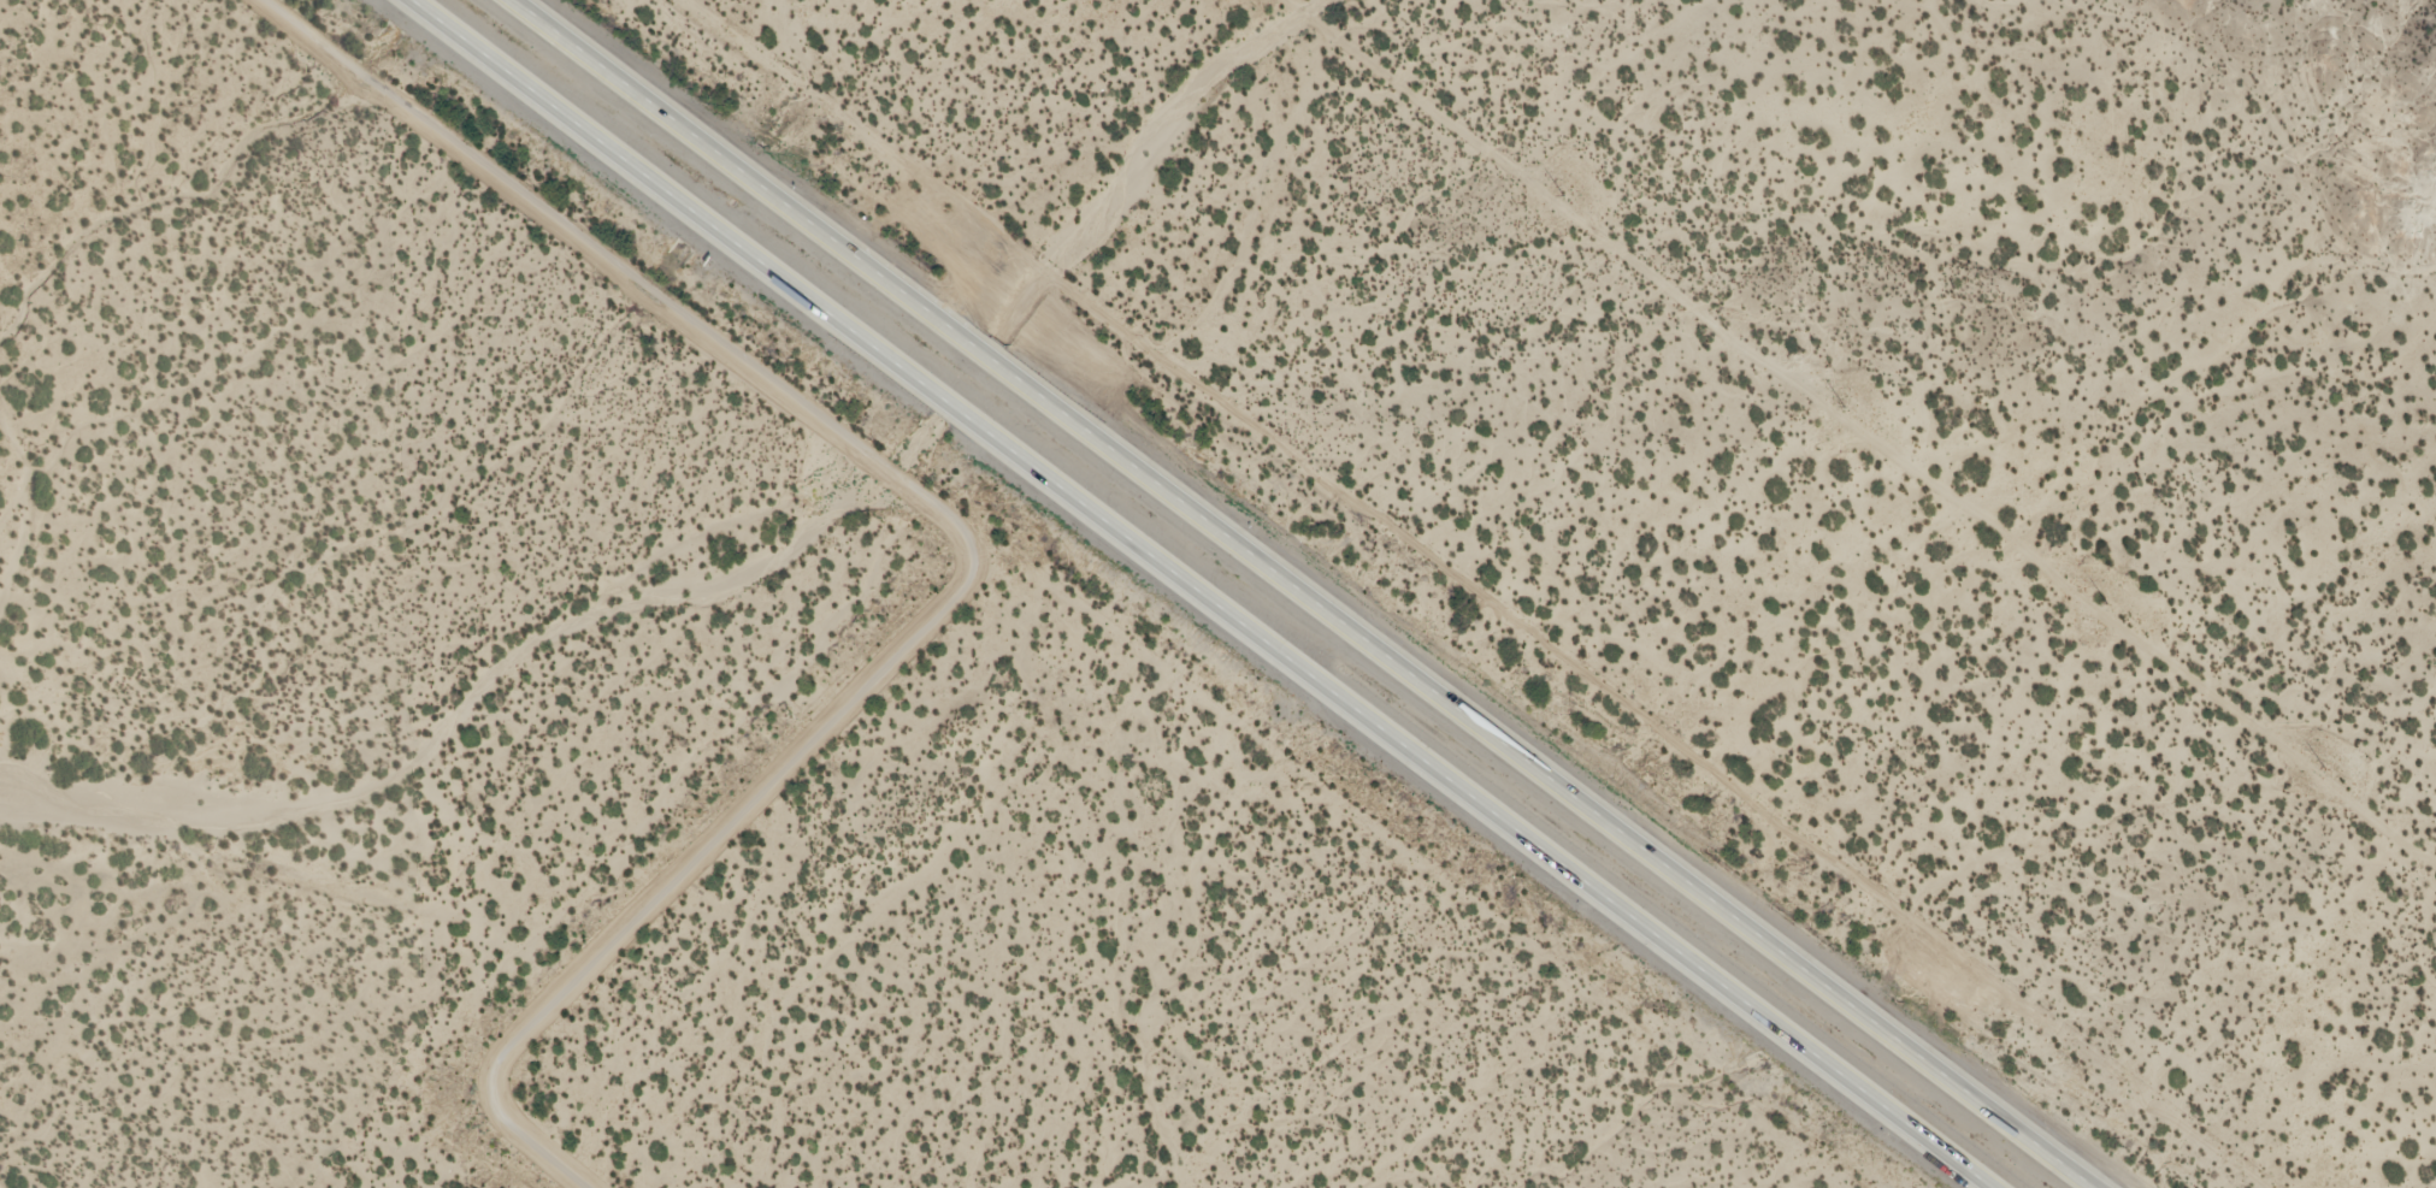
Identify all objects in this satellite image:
road: (959, 531)
road: (1299, 593)
road: (1198, 595)

